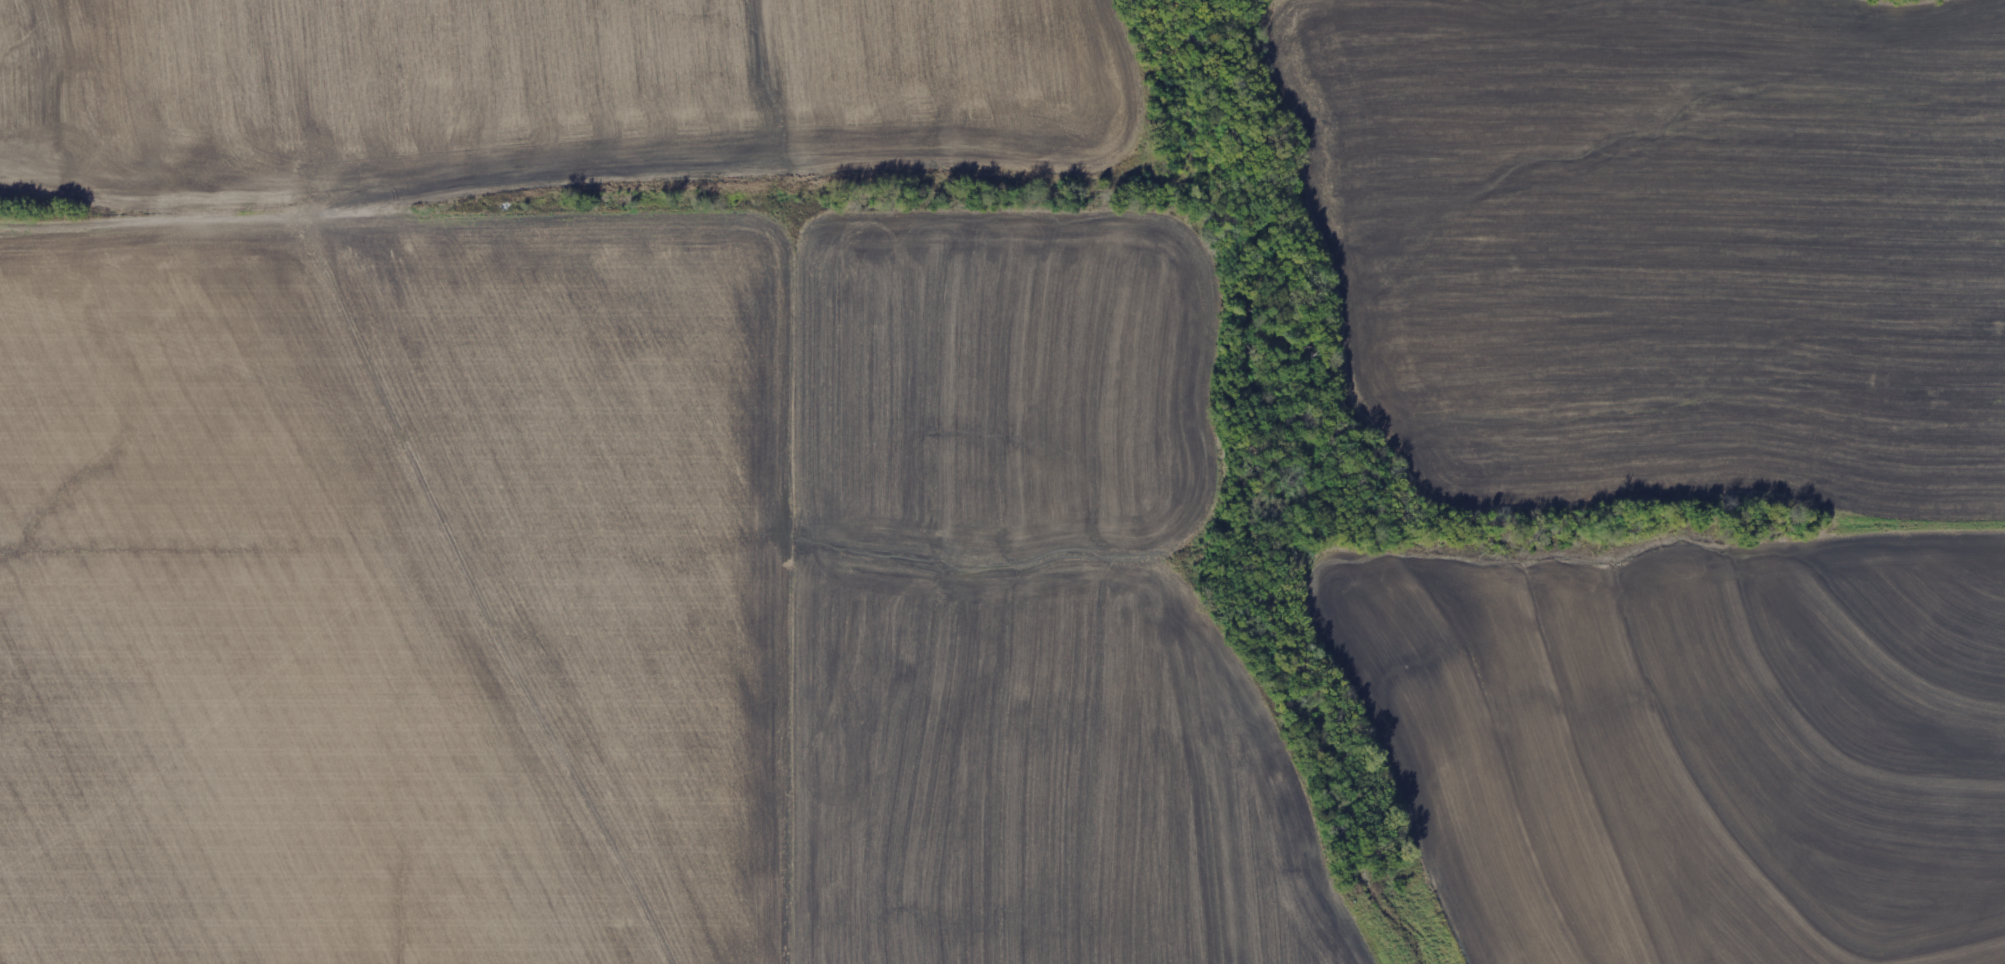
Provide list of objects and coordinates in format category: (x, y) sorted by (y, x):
road: (370, 215)

